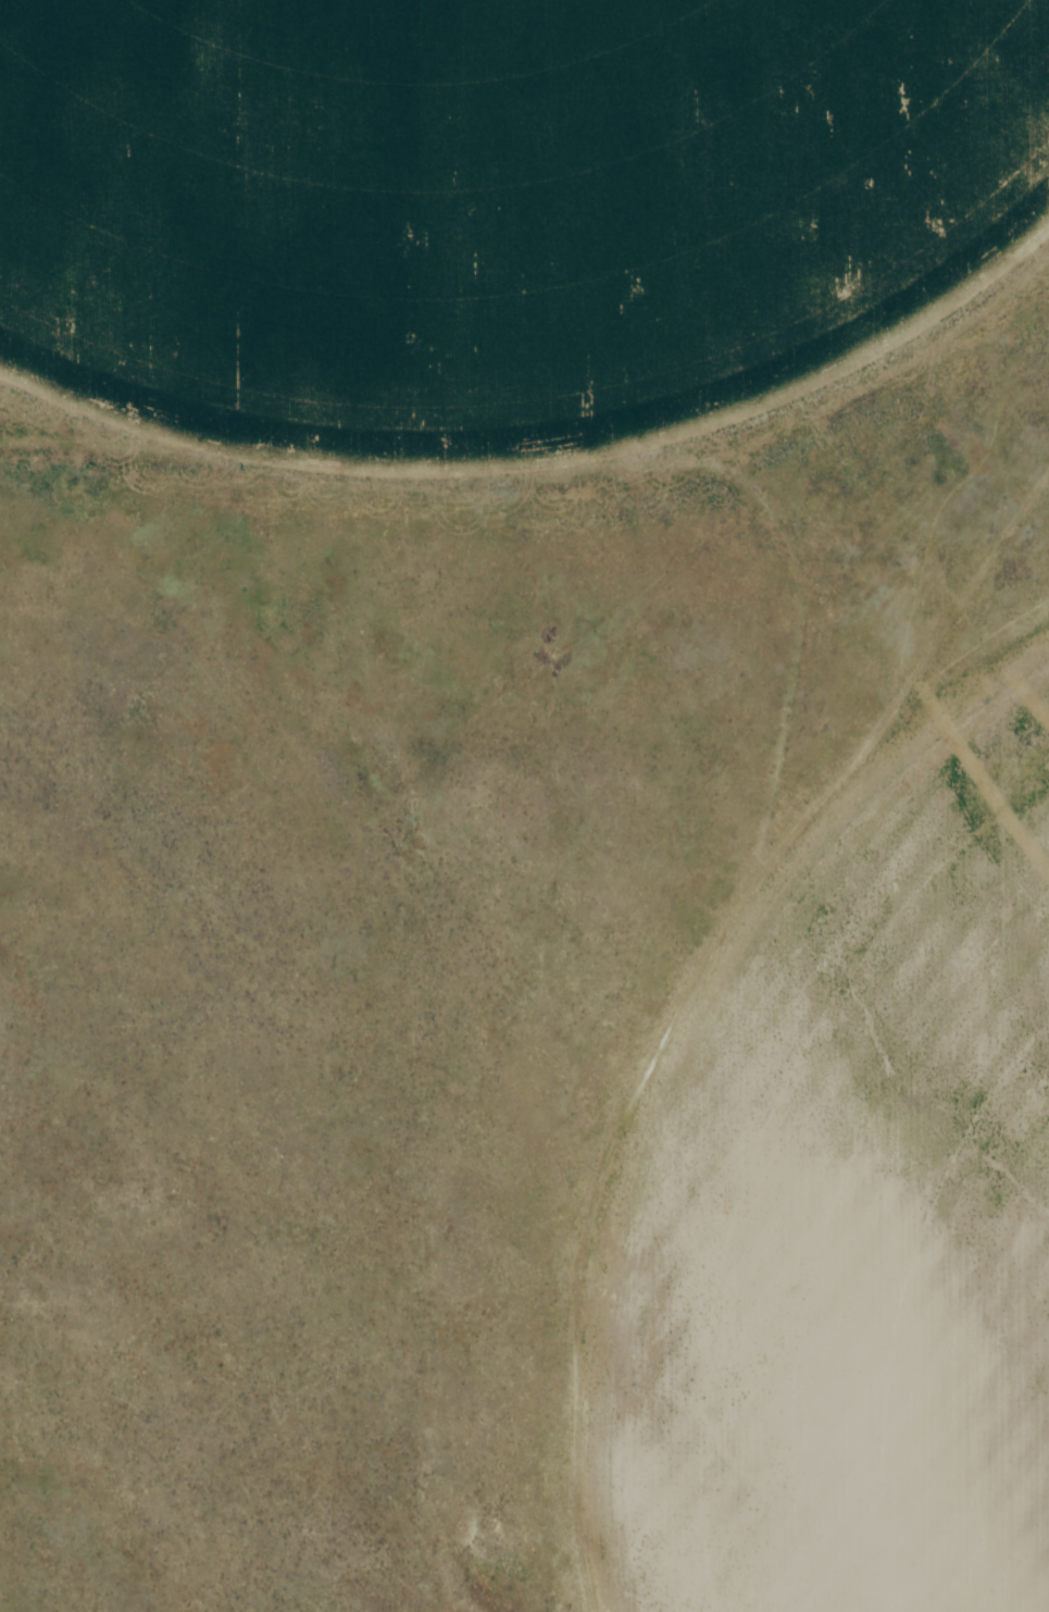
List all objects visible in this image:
crop: (496, 209)
crop: (852, 1213)

